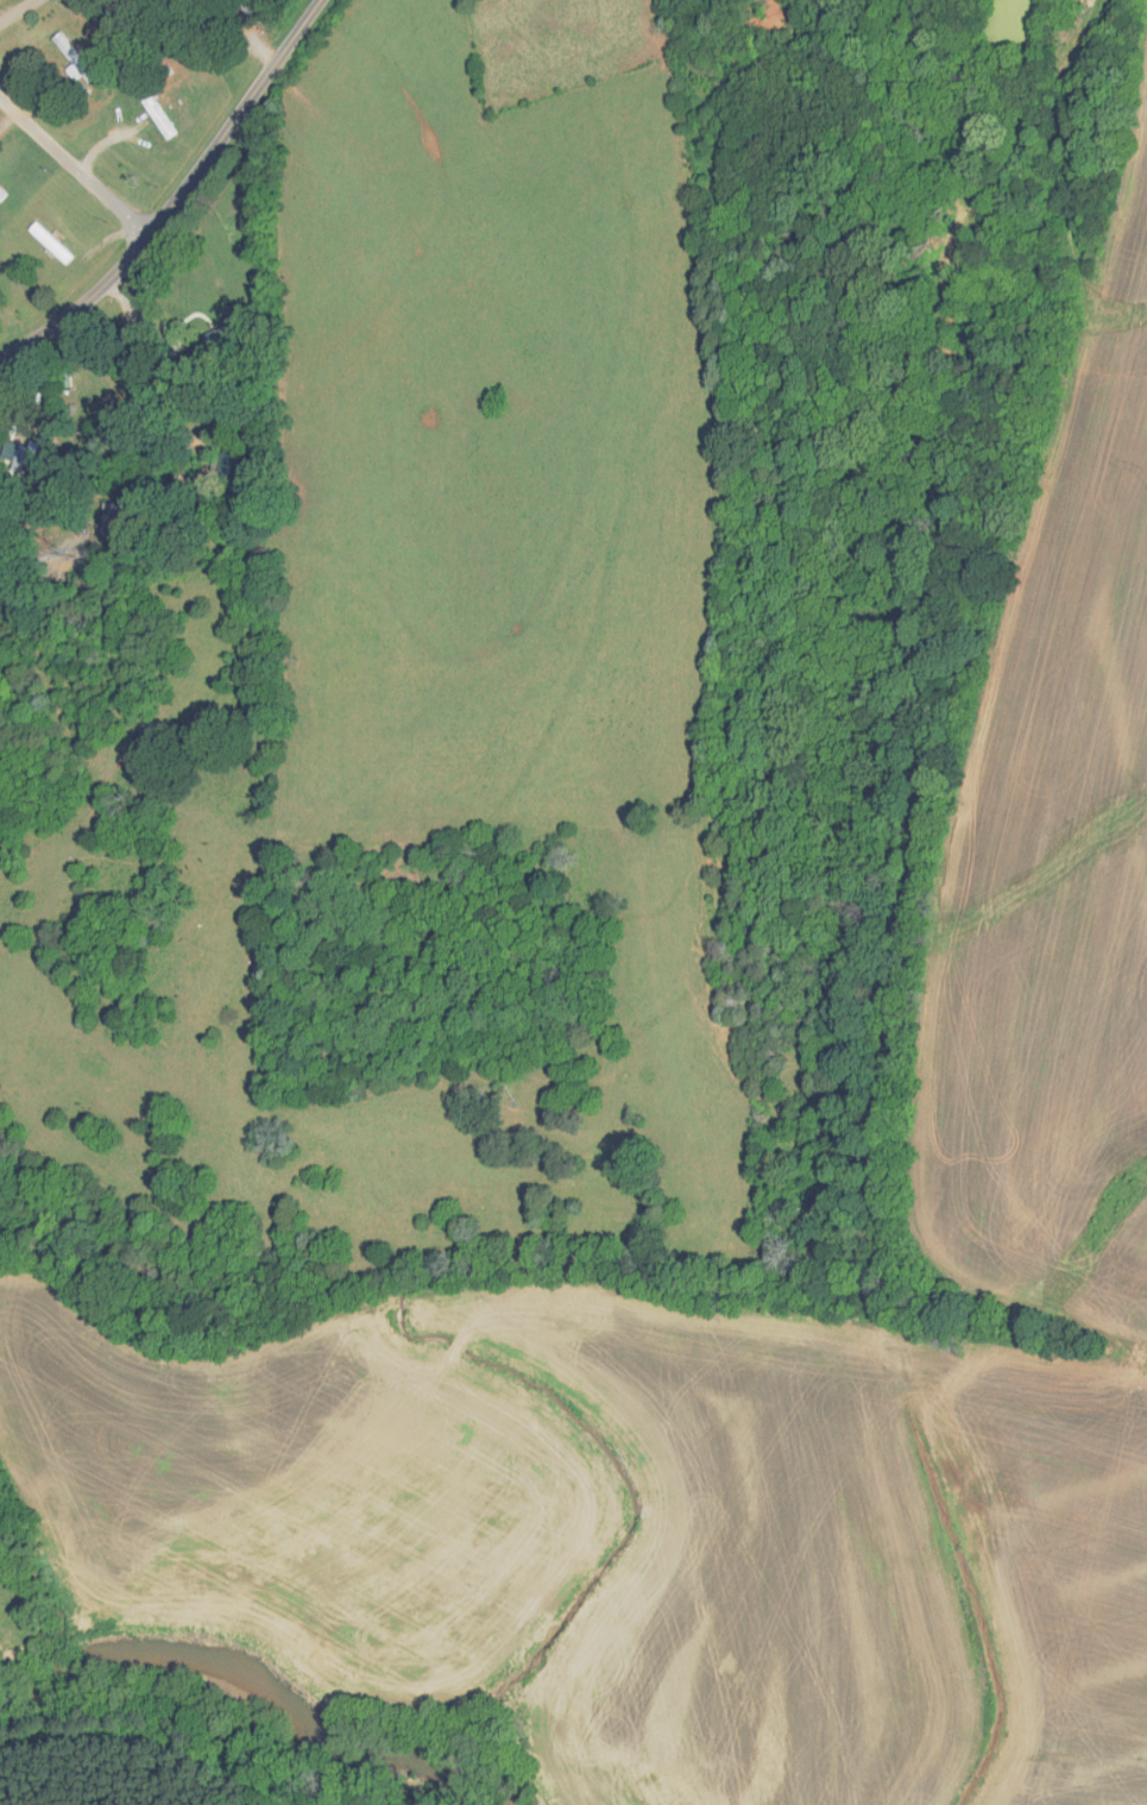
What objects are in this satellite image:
road: (19, 12)
building: (151, 114)
road: (74, 168)
road: (178, 197)
building: (45, 244)
building: (15, 459)
building: (219, 470)
building: (102, 523)

